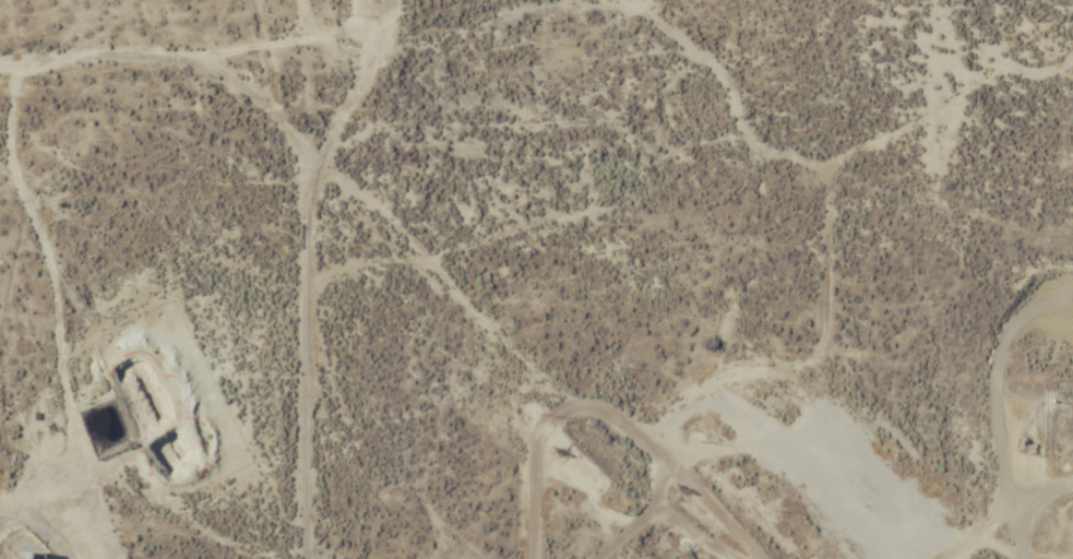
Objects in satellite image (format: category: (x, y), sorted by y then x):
road: (17, 539)

